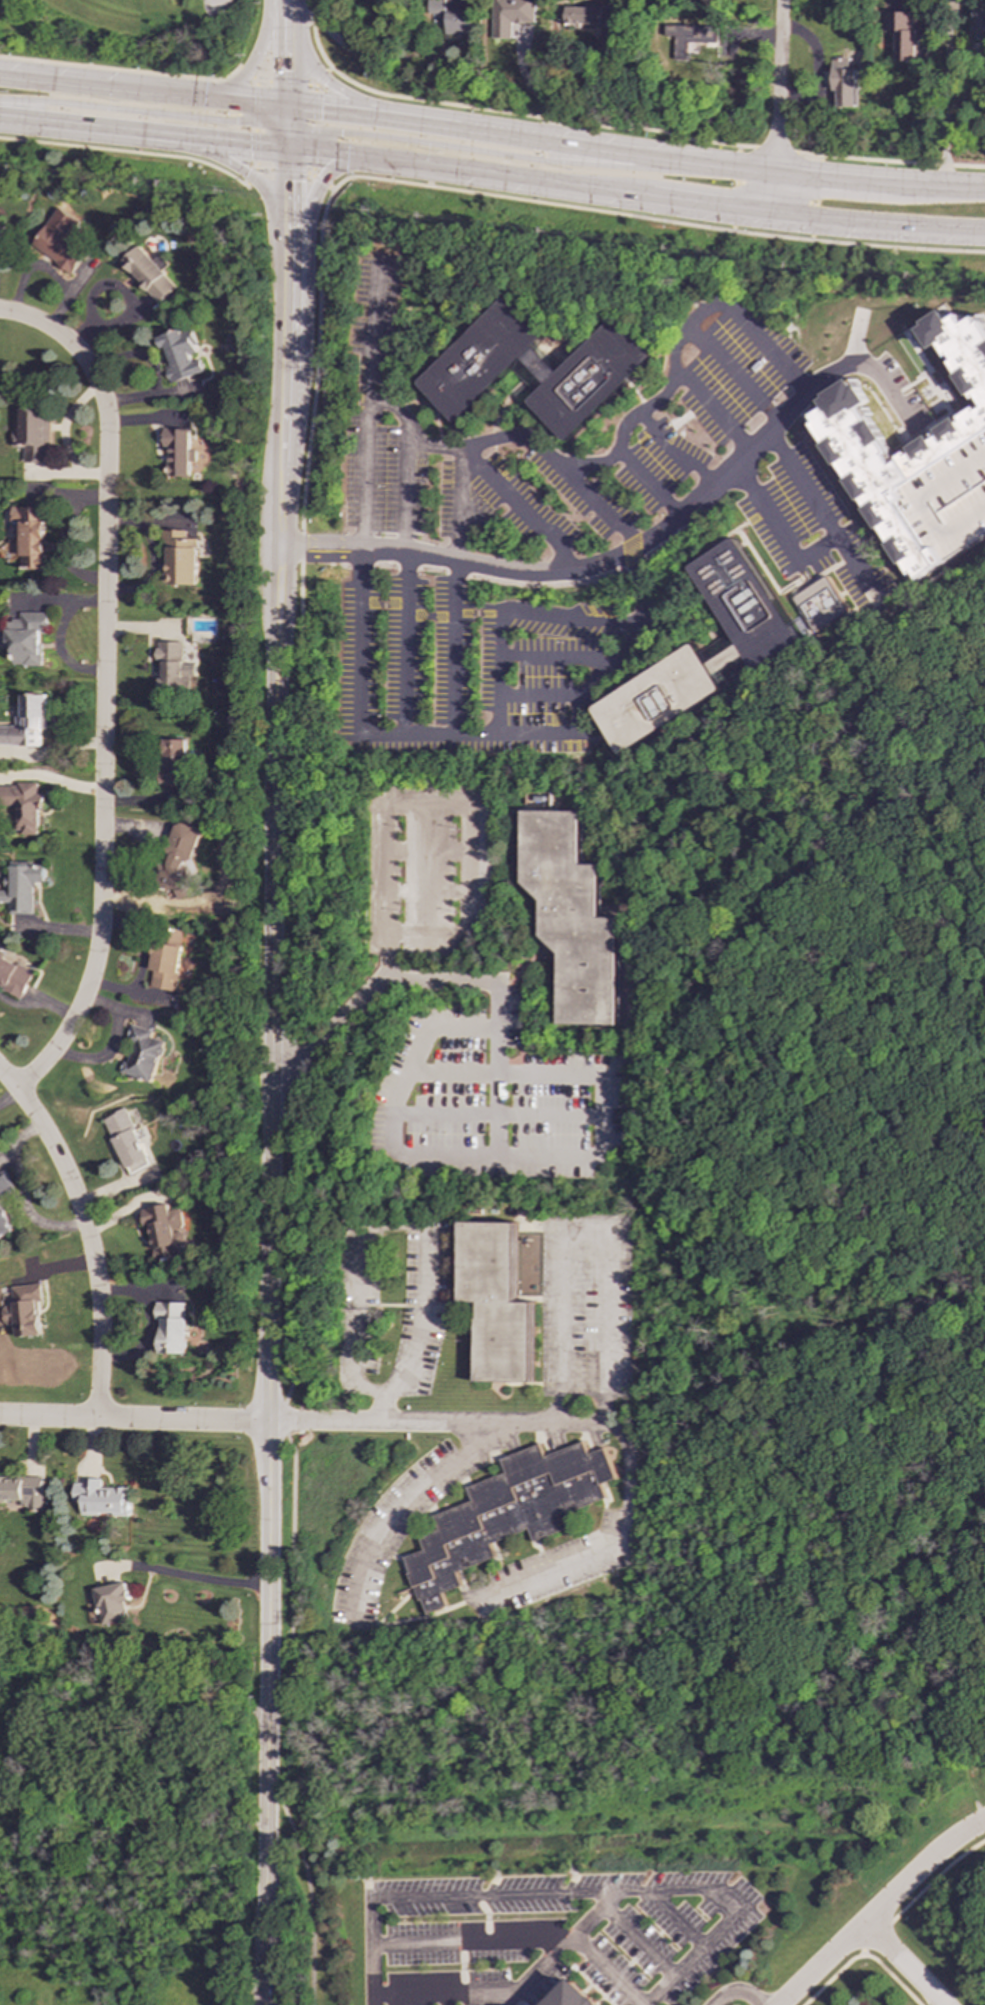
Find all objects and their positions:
road: (213, 4)
road: (267, 8)
road: (285, 8)
building: (451, 14)
road: (276, 16)
building: (510, 16)
building: (589, 16)
road: (285, 23)
building: (978, 26)
building: (904, 34)
park: (131, 38)
building: (699, 39)
road: (363, 55)
road: (248, 67)
road: (285, 67)
road: (121, 70)
traffic signals: (285, 71)
road: (246, 72)
road: (320, 76)
road: (321, 79)
road: (284, 82)
building: (844, 82)
road: (565, 83)
road: (142, 88)
road: (946, 94)
road: (254, 105)
traffic signals: (285, 105)
road: (313, 105)
road: (777, 107)
traffic signals: (318, 109)
road: (329, 110)
road: (144, 112)
road: (539, 117)
traffic signals: (234, 122)
road: (285, 127)
road: (459, 127)
road: (142, 132)
traffic signals: (338, 132)
traffic signals: (248, 144)
road: (158, 145)
road: (310, 148)
road: (253, 149)
road: (124, 150)
road: (775, 151)
road: (321, 153)
road: (499, 154)
road: (659, 156)
road: (889, 161)
road: (281, 170)
road: (248, 177)
traffic signals: (285, 181)
road: (319, 181)
road: (879, 182)
road: (734, 187)
road: (284, 189)
road: (476, 193)
road: (816, 197)
road: (671, 200)
building: (2, 235)
road: (805, 239)
building: (60, 241)
building: (147, 274)
road: (303, 298)
road: (41, 325)
road: (283, 348)
building: (178, 356)
road: (867, 368)
building: (535, 369)
road: (363, 410)
road: (309, 414)
building: (34, 434)
road: (619, 444)
building: (856, 446)
building: (177, 452)
road: (812, 505)
road: (777, 532)
building: (32, 537)
building: (179, 558)
road: (574, 568)
building: (820, 603)
building: (743, 606)
building: (27, 639)
road: (406, 643)
road: (457, 647)
building: (172, 667)
building: (658, 699)
building: (27, 722)
road: (103, 729)
road: (483, 733)
building: (173, 763)
building: (23, 806)
road: (384, 826)
building: (180, 859)
building: (22, 887)
building: (572, 916)
road: (273, 945)
building: (165, 966)
building: (14, 976)
road: (37, 1004)
building: (142, 1055)
road: (484, 1117)
road: (602, 1139)
building: (126, 1141)
road: (419, 1155)
building: (5, 1186)
building: (4, 1223)
road: (401, 1226)
building: (166, 1232)
road: (87, 1233)
building: (497, 1301)
building: (24, 1310)
building: (171, 1326)
road: (293, 1327)
road: (606, 1373)
road: (134, 1420)
building: (23, 1491)
building: (102, 1498)
road: (400, 1507)
building: (506, 1513)
road: (613, 1543)
road: (209, 1579)
building: (112, 1602)
road: (269, 1714)
road: (132, 1815)
road: (439, 1896)
road: (880, 1910)
road: (742, 1911)
road: (470, 1942)
road: (903, 1967)
road: (537, 1968)
road: (607, 1970)
road: (740, 1992)
building: (572, 1996)

